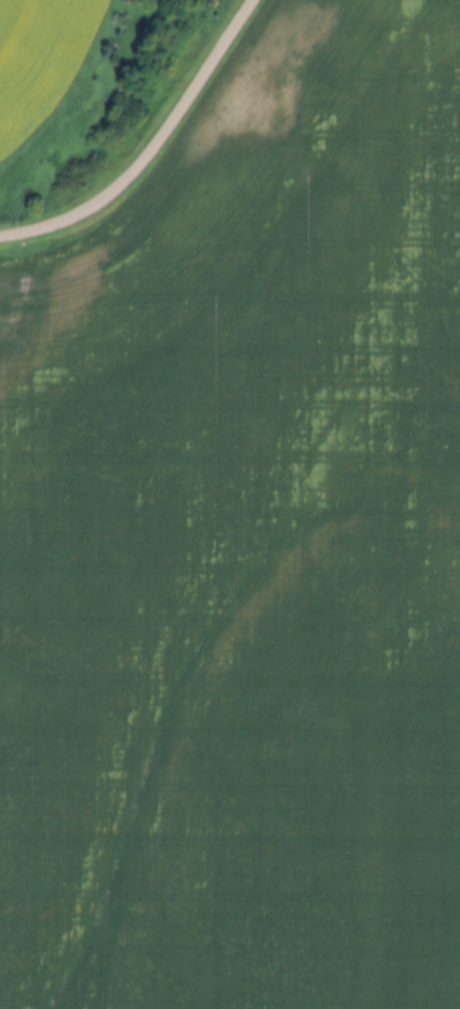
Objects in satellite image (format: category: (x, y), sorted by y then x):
road: (150, 146)

